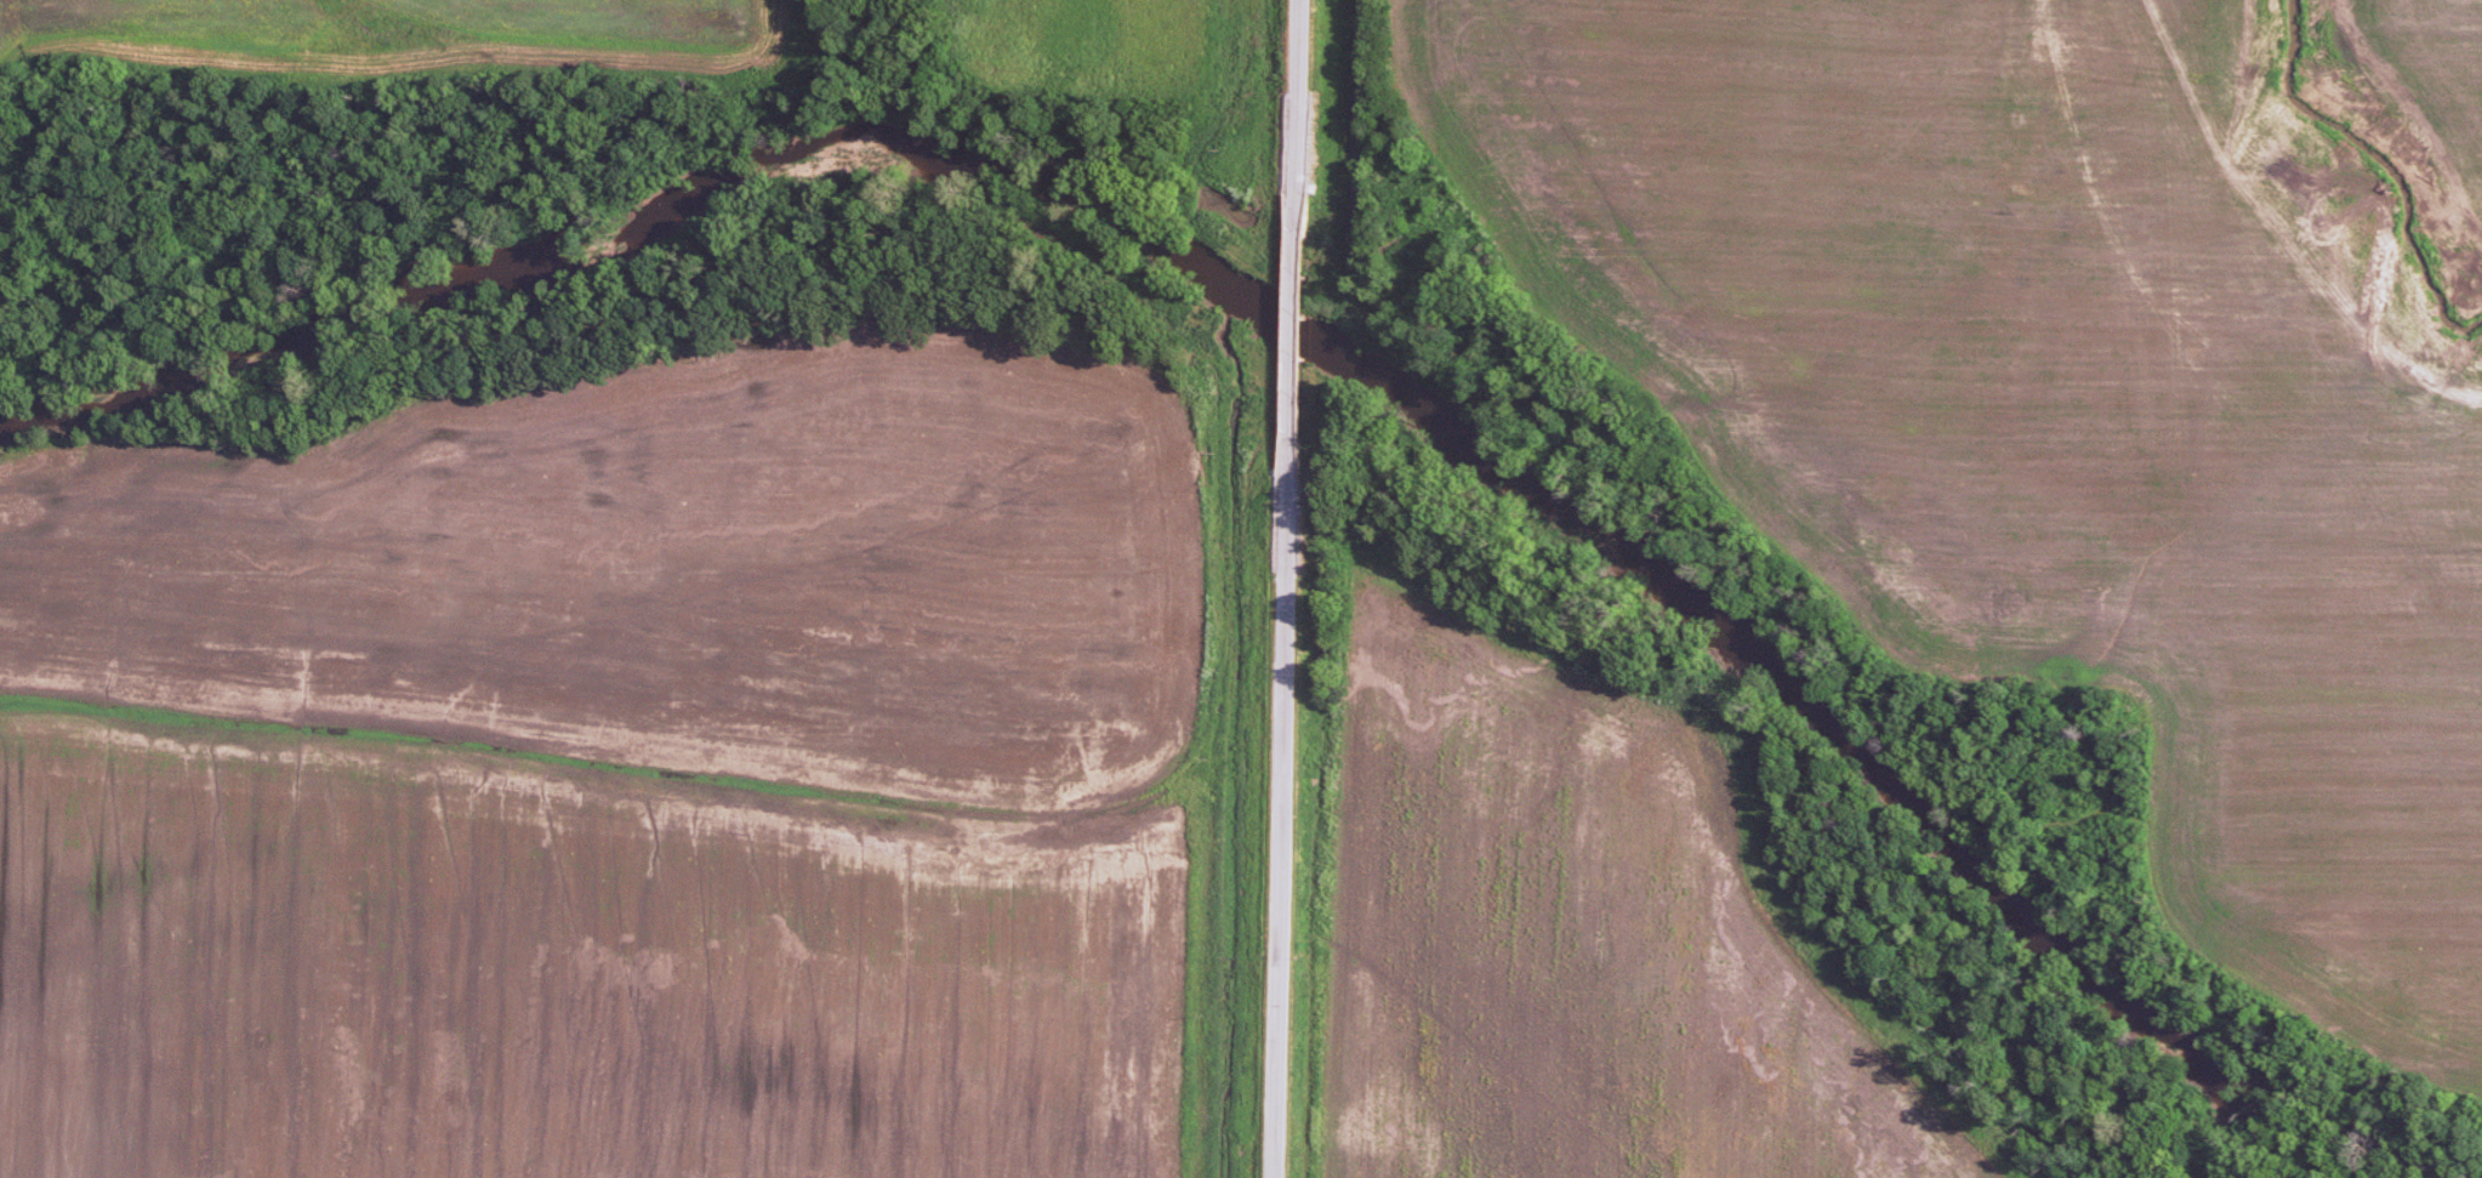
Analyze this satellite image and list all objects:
road: (1297, 103)
river: (895, 147)
road: (1290, 337)
road: (1282, 823)
river: (1962, 859)

